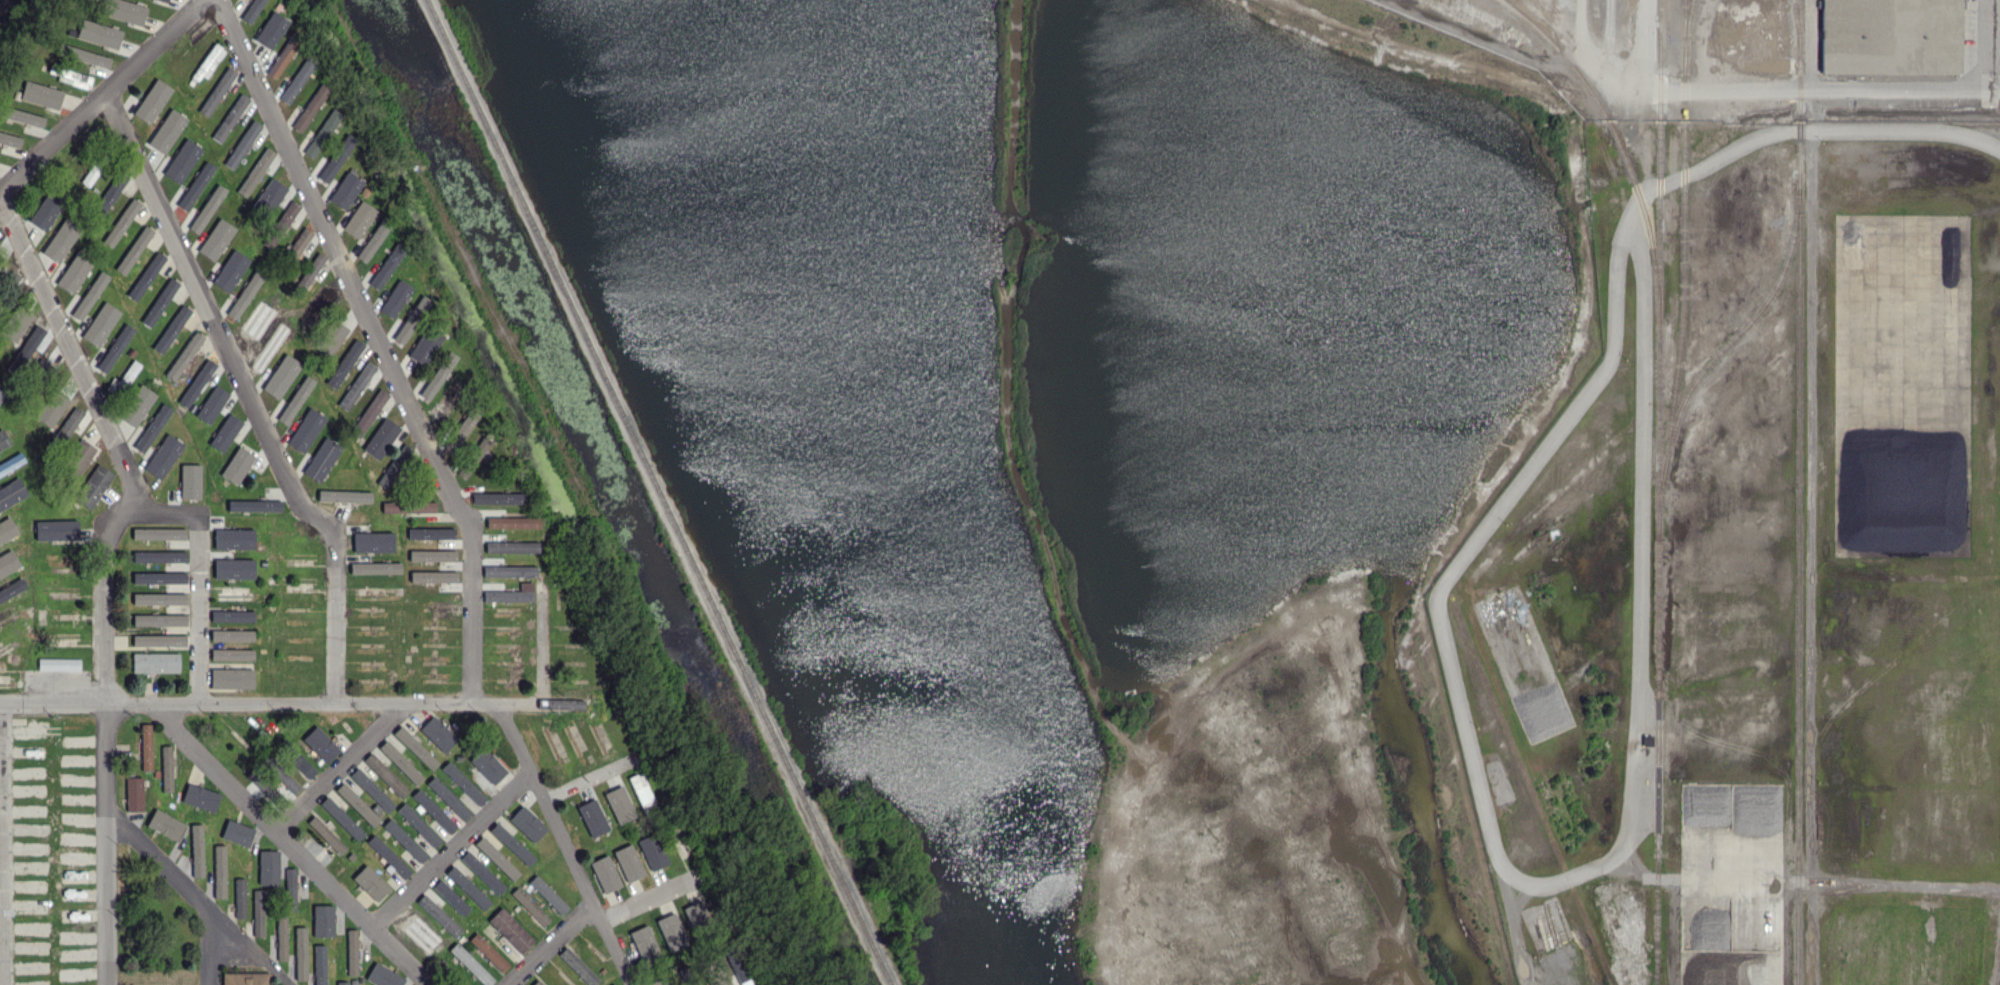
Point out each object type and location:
building: (163, 1)
building: (170, 1)
building: (279, 6)
building: (255, 11)
building: (136, 14)
building: (110, 17)
building: (88, 28)
building: (271, 29)
railway: (1801, 32)
building: (112, 35)
railway: (1689, 37)
road: (1999, 37)
building: (69, 50)
building: (92, 55)
building: (282, 58)
building: (206, 63)
building: (43, 68)
building: (1, 73)
building: (70, 75)
building: (298, 79)
building: (192, 83)
road: (1789, 89)
building: (217, 91)
road: (100, 93)
building: (48, 95)
building: (157, 95)
building: (17, 96)
building: (3, 109)
building: (310, 110)
building: (187, 114)
building: (153, 116)
building: (27, 117)
building: (230, 117)
building: (168, 118)
building: (322, 133)
building: (84, 134)
building: (12, 139)
building: (165, 139)
railway: (1620, 141)
building: (243, 144)
building: (196, 146)
building: (65, 153)
building: (336, 158)
building: (2, 163)
building: (97, 166)
building: (180, 168)
building: (256, 173)
building: (347, 189)
building: (112, 191)
building: (194, 193)
building: (365, 193)
building: (268, 199)
building: (75, 200)
building: (87, 200)
building: (207, 208)
building: (272, 210)
building: (96, 213)
building: (49, 214)
building: (359, 220)
building: (121, 222)
building: (225, 222)
building: (383, 224)
building: (281, 225)
building: (61, 239)
building: (137, 244)
building: (219, 246)
building: (372, 247)
building: (295, 249)
building: (265, 252)
building: (399, 252)
building: (2, 254)
building: (123, 265)
building: (150, 272)
railway: (1685, 272)
building: (385, 273)
building: (76, 274)
building: (262, 275)
building: (230, 276)
building: (308, 277)
building: (410, 280)
building: (103, 281)
building: (8, 288)
building: (135, 293)
building: (396, 298)
building: (160, 300)
building: (244, 301)
building: (87, 302)
building: (292, 303)
building: (117, 305)
building: (318, 306)
building: (17, 319)
building: (435, 319)
building: (257, 322)
building: (143, 323)
building: (127, 324)
building: (409, 327)
building: (101, 328)
building: (172, 329)
building: (286, 330)
building: (332, 332)
railway: (1741, 332)
building: (14, 338)
building: (292, 340)
road: (380, 342)
building: (30, 346)
building: (426, 349)
building: (269, 351)
building: (113, 354)
building: (132, 354)
building: (185, 354)
building: (345, 363)
building: (320, 369)
building: (43, 374)
building: (281, 376)
building: (171, 377)
building: (437, 378)
building: (200, 379)
building: (125, 381)
building: (357, 385)
building: (458, 387)
building: (2, 394)
road: (247, 394)
building: (30, 397)
building: (197, 397)
building: (137, 406)
building: (212, 406)
building: (51, 408)
building: (447, 408)
building: (294, 409)
building: (323, 413)
building: (371, 415)
building: (198, 426)
building: (67, 427)
building: (152, 428)
building: (5, 432)
building: (225, 432)
building: (459, 432)
building: (307, 435)
building: (334, 435)
building: (381, 438)
building: (8, 440)
building: (359, 441)
park: (789, 443)
building: (79, 454)
building: (163, 456)
building: (208, 456)
building: (368, 459)
building: (321, 461)
road: (125, 464)
building: (237, 465)
building: (395, 466)
building: (7, 470)
building: (190, 481)
building: (62, 482)
building: (91, 486)
building: (24, 489)
railway: (658, 492)
railway: (1660, 492)
railway: (1802, 492)
building: (493, 497)
building: (519, 497)
building: (341, 498)
building: (8, 500)
building: (76, 505)
building: (258, 505)
building: (412, 507)
building: (360, 509)
building: (529, 512)
building: (14, 515)
building: (241, 515)
building: (374, 521)
building: (511, 524)
building: (33, 528)
building: (60, 528)
building: (7, 529)
building: (408, 531)
building: (159, 533)
building: (433, 534)
building: (234, 538)
building: (372, 543)
building: (240, 548)
building: (509, 549)
building: (407, 552)
building: (133, 556)
building: (159, 556)
building: (271, 558)
building: (430, 559)
building: (8, 563)
building: (375, 567)
building: (408, 567)
building: (239, 573)
building: (510, 573)
building: (159, 577)
building: (409, 582)
building: (434, 582)
building: (271, 583)
building: (263, 585)
building: (7, 589)
building: (245, 589)
building: (235, 596)
building: (511, 597)
building: (159, 598)
building: (18, 609)
building: (30, 609)
building: (232, 615)
building: (6, 619)
building: (159, 619)
building: (232, 635)
building: (61, 638)
building: (158, 640)
building: (0, 644)
building: (8, 648)
building: (232, 654)
building: (123, 657)
building: (156, 664)
building: (62, 665)
building: (231, 678)
building: (6, 682)
building: (18, 684)
road: (293, 701)
road: (105, 732)
building: (438, 733)
building: (598, 739)
building: (320, 743)
building: (575, 745)
building: (146, 748)
building: (413, 749)
building: (400, 764)
building: (301, 765)
building: (488, 765)
building: (167, 766)
road: (341, 766)
building: (129, 774)
building: (156, 774)
building: (385, 777)
road: (594, 777)
building: (174, 780)
building: (286, 780)
building: (463, 783)
building: (262, 789)
building: (371, 789)
railway: (1533, 792)
building: (134, 795)
building: (400, 795)
building: (200, 797)
building: (642, 797)
building: (448, 798)
building: (357, 804)
building: (616, 805)
building: (207, 809)
building: (434, 810)
building: (671, 810)
building: (186, 811)
building: (592, 817)
building: (341, 818)
building: (179, 823)
building: (419, 825)
building: (526, 831)
building: (237, 832)
building: (209, 833)
building: (325, 834)
building: (677, 838)
building: (405, 842)
road: (565, 842)
road: (2, 843)
building: (512, 843)
building: (545, 846)
road: (291, 847)
road: (452, 848)
building: (341, 849)
building: (197, 850)
building: (610, 850)
building: (659, 853)
building: (388, 856)
building: (351, 857)
building: (496, 857)
building: (635, 864)
building: (268, 867)
building: (219, 871)
building: (482, 872)
building: (611, 875)
building: (516, 877)
building: (370, 883)
building: (467, 887)
building: (290, 889)
building: (548, 894)
road: (195, 895)
building: (239, 897)
building: (450, 897)
road: (649, 897)
building: (530, 906)
building: (258, 912)
building: (699, 916)
building: (322, 920)
building: (675, 928)
building: (510, 930)
building: (279, 932)
building: (425, 933)
building: (454, 934)
building: (650, 939)
building: (447, 941)
building: (461, 941)
road: (549, 943)
building: (729, 943)
road: (209, 946)
building: (352, 952)
building: (488, 952)
building: (300, 953)
building: (319, 957)
building: (578, 966)
building: (475, 967)
building: (741, 967)
building: (675, 971)
building: (714, 972)
building: (323, 973)
building: (687, 974)
building: (394, 978)
road: (158, 980)
building: (660, 980)
building: (243, 981)
building: (361, 981)
building: (342, 982)
building: (540, 983)

